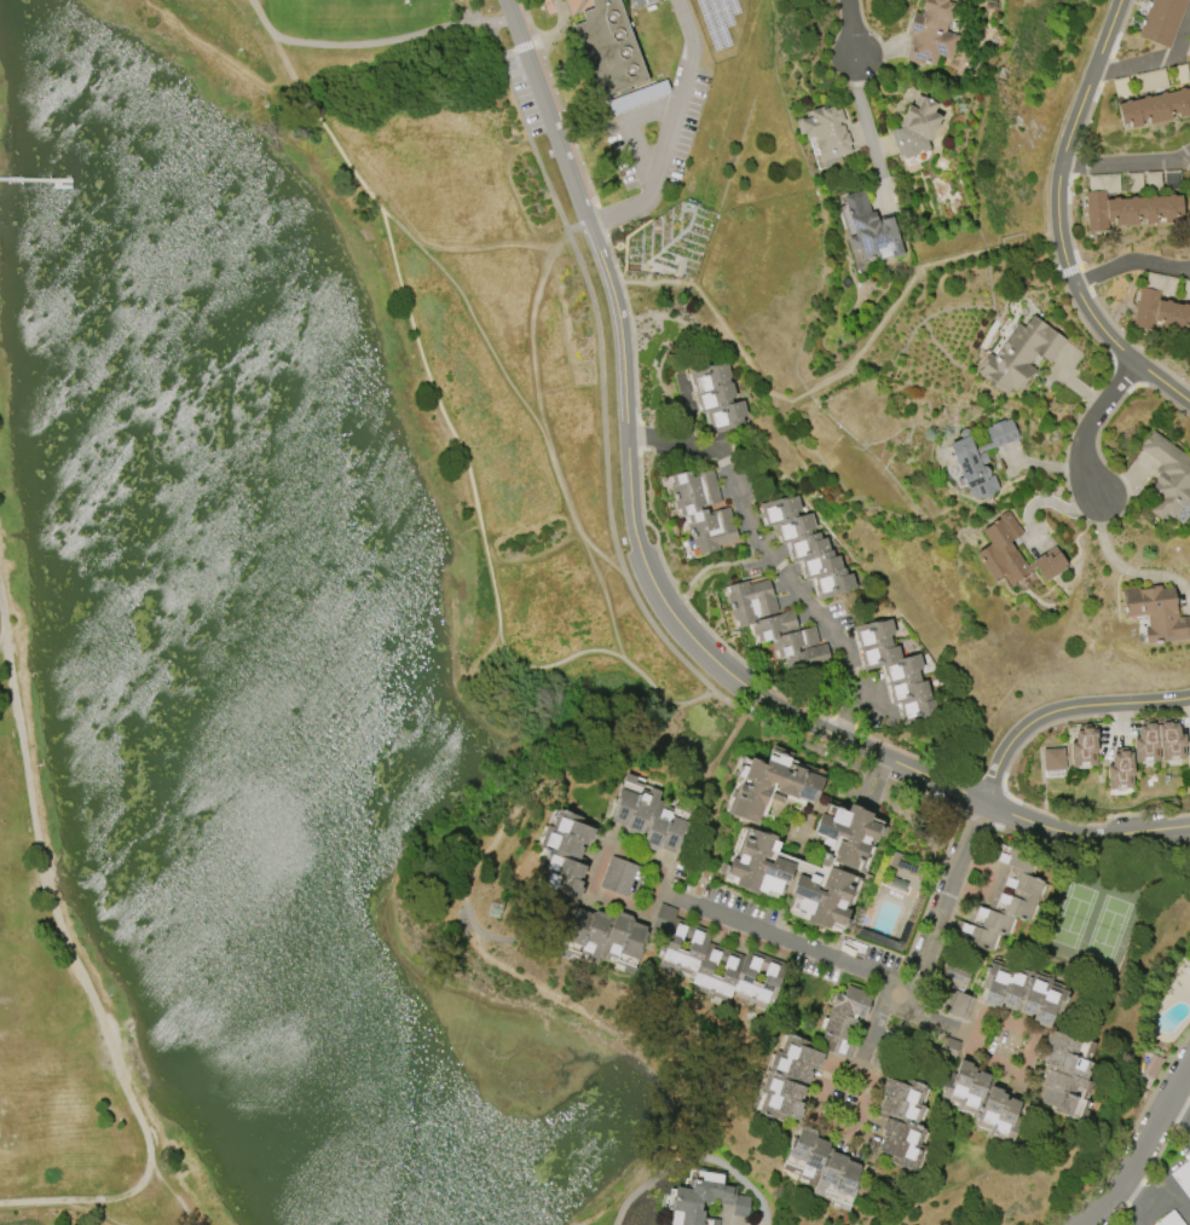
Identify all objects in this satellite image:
building: (646, 1)
building: (635, 4)
road: (512, 13)
building: (1161, 21)
road: (855, 23)
building: (931, 33)
road: (375, 44)
building: (608, 47)
building: (1189, 52)
road: (1153, 62)
building: (1179, 74)
building: (1149, 81)
building: (1121, 87)
parking lot: (524, 92)
building: (1155, 106)
road: (863, 112)
road: (553, 125)
building: (915, 126)
road: (669, 131)
building: (825, 132)
road: (631, 134)
park: (4, 144)
road: (1127, 163)
pier: (34, 179)
building: (1171, 180)
building: (1153, 181)
building: (1133, 183)
pier: (60, 186)
building: (1125, 204)
road: (1064, 214)
road: (578, 227)
building: (870, 227)
road: (1134, 262)
park: (444, 279)
building: (1185, 290)
building: (1160, 305)
road: (623, 328)
building: (1189, 333)
road: (535, 335)
building: (1019, 354)
building: (717, 395)
road: (1093, 418)
building: (980, 457)
building: (1167, 475)
road: (473, 485)
road: (610, 509)
building: (703, 510)
road: (761, 544)
building: (807, 545)
building: (1013, 553)
road: (607, 557)
building: (1156, 612)
building: (775, 625)
road: (1, 630)
building: (896, 671)
road: (655, 689)
road: (694, 701)
road: (1061, 707)
road: (827, 734)
building: (1169, 740)
building: (1145, 742)
building: (1082, 746)
building: (1188, 753)
building: (1052, 758)
building: (1120, 769)
building: (770, 784)
building: (649, 815)
building: (562, 854)
building: (906, 863)
building: (764, 865)
road: (593, 871)
building: (618, 876)
building: (897, 882)
building: (1001, 900)
power tower: (501, 913)
building: (603, 937)
building: (714, 961)
road: (76, 966)
park: (65, 969)
building: (1188, 970)
road: (872, 971)
building: (954, 989)
building: (1022, 992)
building: (844, 1018)
road: (1003, 1019)
building: (948, 1048)
building: (1065, 1074)
building: (787, 1077)
road: (819, 1092)
building: (981, 1099)
road: (1183, 1109)
building: (901, 1121)
road: (1148, 1155)
building: (822, 1167)
building: (1183, 1177)
road: (175, 1192)
road: (1139, 1192)
building: (705, 1197)
road: (1169, 1200)
road: (1143, 1210)
road: (112, 1212)
building: (1168, 1219)

